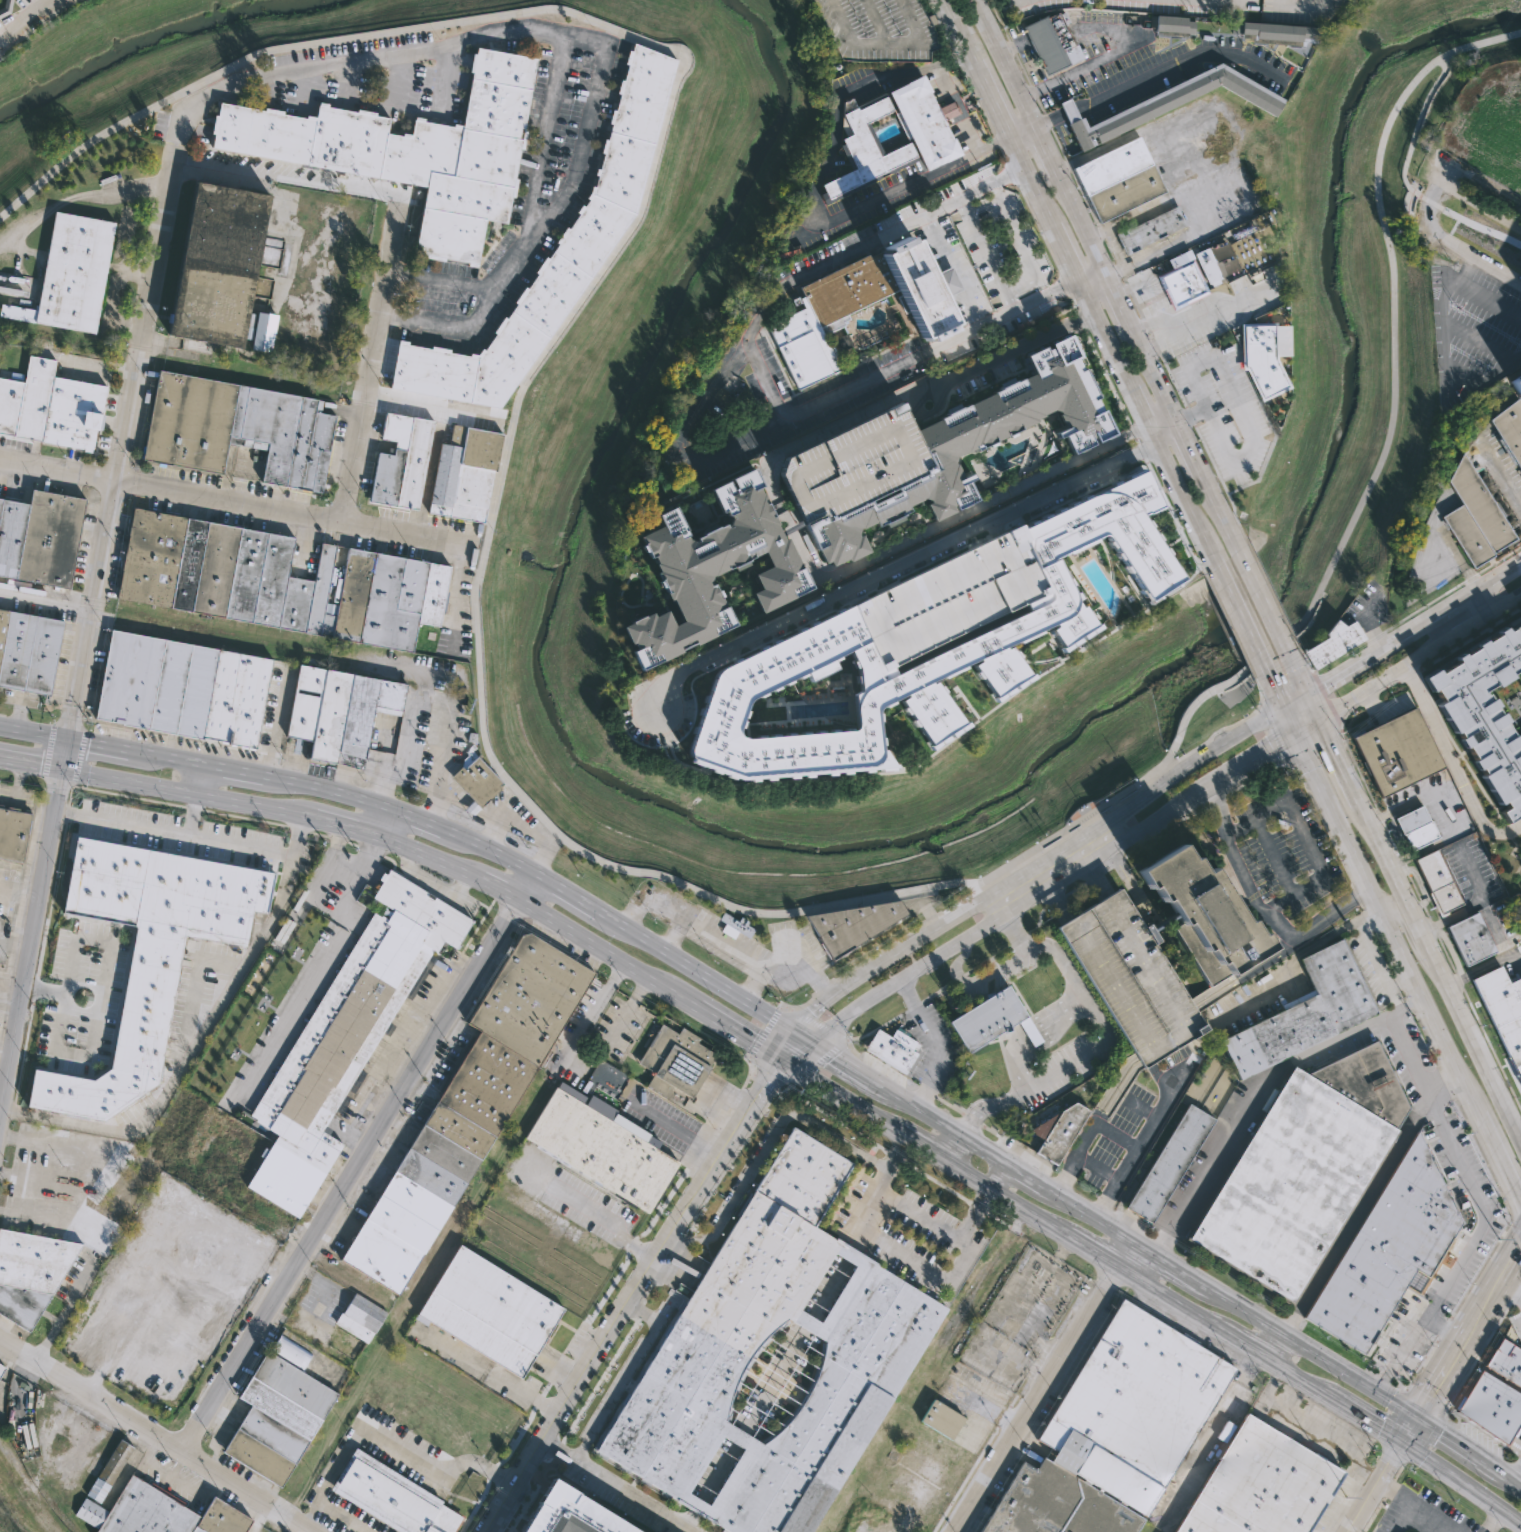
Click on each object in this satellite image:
parking lot: (20, 3)
building: (6, 7)
street lamp: (887, 8)
street lamp: (854, 11)
road: (1305, 11)
road: (25, 20)
street lamp: (893, 21)
street lamp: (860, 22)
road: (875, 22)
building: (1171, 25)
road: (942, 26)
building: (879, 30)
parking garage: (879, 30)
building: (1278, 31)
street lamp: (865, 34)
street lamp: (899, 34)
road: (1009, 42)
building: (1052, 42)
road: (883, 44)
street lamp: (873, 51)
street lamp: (908, 51)
road: (1108, 54)
road: (958, 59)
road: (1004, 63)
road: (1177, 63)
road: (943, 77)
road: (444, 81)
road: (398, 83)
road: (266, 84)
road: (341, 87)
road: (302, 91)
road: (1033, 91)
road: (977, 99)
building: (1174, 103)
road: (1040, 106)
building: (1068, 110)
road: (1068, 110)
road: (1049, 120)
road: (1047, 121)
road: (1415, 127)
road: (1022, 132)
road: (1131, 135)
building: (929, 137)
road: (970, 138)
road: (996, 141)
road: (1058, 144)
road: (543, 146)
road: (1045, 150)
building: (411, 151)
road: (1002, 153)
road: (1068, 165)
road: (1010, 171)
road: (288, 173)
building: (1118, 179)
road: (76, 196)
road: (812, 196)
road: (1084, 197)
road: (1468, 198)
road: (982, 203)
road: (1160, 203)
road: (1431, 204)
road: (1231, 220)
road: (1081, 224)
road: (905, 225)
road: (1038, 227)
road: (1482, 228)
building: (1151, 229)
road: (1099, 231)
road: (1018, 239)
road: (1109, 250)
road: (1467, 251)
building: (554, 253)
road: (986, 254)
road: (943, 259)
building: (211, 264)
building: (1206, 267)
road: (956, 269)
road: (1117, 269)
building: (66, 273)
road: (1078, 277)
road: (1092, 278)
road: (1124, 279)
building: (1182, 281)
road: (7, 282)
road: (946, 282)
road: (1131, 284)
road: (1065, 286)
road: (1127, 287)
road: (1022, 289)
road: (112, 294)
road: (960, 294)
road: (1116, 298)
building: (862, 305)
road: (1074, 305)
road: (1135, 305)
road: (1207, 305)
road: (1397, 305)
parking lot: (997, 318)
road: (1081, 321)
road: (1145, 324)
road: (448, 325)
building: (260, 331)
road: (1149, 334)
building: (842, 343)
road: (1155, 345)
road: (756, 348)
road: (1444, 350)
building: (1265, 356)
road: (374, 358)
road: (888, 369)
road: (1151, 371)
road: (1108, 379)
road: (1172, 379)
building: (1514, 382)
road: (707, 395)
road: (895, 395)
road: (915, 404)
building: (48, 406)
parking lot: (1223, 408)
road: (933, 411)
road: (1191, 413)
road: (1189, 415)
road: (1243, 416)
road: (1162, 427)
building: (234, 428)
road: (1272, 428)
building: (1509, 430)
building: (974, 443)
road: (1138, 443)
road: (1189, 449)
road: (503, 451)
building: (399, 461)
building: (851, 464)
parking garage: (851, 464)
building: (463, 472)
road: (1502, 477)
road: (1220, 480)
parking lot: (1034, 483)
road: (695, 488)
road: (233, 501)
road: (1218, 511)
building: (1475, 516)
road: (959, 517)
road: (792, 518)
road: (1173, 520)
road: (993, 526)
building: (790, 528)
road: (790, 529)
building: (38, 538)
road: (1456, 556)
building: (713, 567)
road: (889, 569)
road: (1498, 572)
building: (274, 581)
road: (1271, 593)
road: (866, 594)
road: (47, 596)
building: (949, 596)
parking garage: (949, 596)
road: (1484, 601)
road: (1264, 606)
road: (1507, 606)
road: (1416, 611)
road: (1239, 617)
road: (1428, 617)
road: (1367, 623)
building: (833, 626)
road: (1230, 627)
road: (1459, 635)
road: (706, 642)
building: (1334, 642)
building: (28, 652)
road: (1266, 652)
road: (1305, 662)
road: (1426, 665)
road: (1343, 670)
road: (1301, 680)
building: (181, 689)
road: (1373, 689)
road: (1288, 690)
road: (1275, 692)
traffic signals: (1307, 694)
road: (1295, 700)
road: (966, 701)
building: (305, 703)
road: (1327, 703)
road: (1260, 705)
traffic signals: (1283, 707)
road: (1313, 708)
building: (1483, 713)
building: (349, 716)
road: (1290, 722)
traffic signals: (1320, 723)
road: (274, 726)
road: (1308, 730)
road: (34, 734)
road: (1274, 735)
traffic signals: (1297, 737)
traffic signals: (69, 741)
road: (950, 741)
road: (103, 747)
road: (405, 747)
road: (1313, 747)
road: (445, 749)
building: (1397, 753)
road: (66, 756)
road: (169, 760)
road: (1173, 760)
road: (32, 765)
road: (1454, 766)
traffic signals: (64, 772)
road: (233, 773)
building: (475, 780)
road: (199, 781)
road: (1145, 781)
road: (323, 789)
road: (190, 794)
road: (452, 798)
road: (1112, 803)
road: (471, 807)
road: (192, 816)
road: (410, 816)
road: (378, 823)
building: (1415, 828)
road: (346, 829)
building: (12, 832)
road: (490, 833)
road: (529, 833)
road: (195, 838)
road: (1103, 838)
road: (1304, 838)
road: (488, 850)
road: (1034, 856)
road: (424, 859)
road: (1035, 864)
road: (1091, 867)
road: (1241, 871)
road: (351, 880)
building: (1437, 882)
road: (1131, 883)
road: (529, 887)
road: (970, 888)
road: (497, 889)
road: (1055, 889)
road: (567, 893)
road: (1036, 895)
road: (1061, 896)
road: (1476, 903)
road: (996, 905)
road: (1393, 909)
road: (1329, 916)
building: (1201, 917)
road: (1368, 918)
road: (1429, 921)
building: (849, 924)
road: (1386, 924)
building: (736, 925)
road: (1420, 935)
building: (1470, 939)
road: (33, 943)
road: (608, 953)
building: (145, 955)
road: (1481, 967)
road: (694, 970)
road: (1239, 975)
building: (1129, 979)
parking garage: (1129, 979)
road: (971, 983)
road: (43, 991)
road: (296, 1005)
road: (597, 1007)
building: (1312, 1009)
building: (1503, 1010)
road: (626, 1014)
road: (1059, 1014)
building: (987, 1019)
road: (818, 1024)
traffic signals: (792, 1027)
parking lot: (616, 1029)
road: (764, 1031)
building: (1029, 1032)
road: (1029, 1032)
road: (738, 1033)
traffic signals: (814, 1040)
road: (934, 1041)
road: (1110, 1041)
road: (786, 1043)
building: (339, 1044)
building: (893, 1050)
road: (85, 1054)
road: (1415, 1055)
road: (188, 1056)
road: (842, 1059)
traffic signals: (781, 1060)
building: (674, 1062)
road: (1017, 1062)
road: (819, 1063)
road: (751, 1066)
parking lot: (883, 1069)
road: (761, 1081)
road: (1251, 1088)
road: (1450, 1089)
road: (783, 1090)
road: (838, 1094)
road: (1143, 1109)
building: (460, 1118)
road: (660, 1120)
road: (949, 1126)
road: (1093, 1126)
road: (778, 1130)
building: (1058, 1133)
road: (1117, 1137)
road: (1145, 1141)
road: (920, 1147)
road: (954, 1149)
building: (602, 1150)
road: (1498, 1158)
road: (905, 1161)
building: (1169, 1164)
building: (1302, 1168)
road: (1098, 1169)
road: (350, 1174)
road: (1025, 1174)
road: (996, 1175)
road: (1362, 1197)
road: (1005, 1199)
road: (703, 1202)
road: (1515, 1203)
road: (1089, 1214)
road: (591, 1215)
road: (929, 1220)
road: (867, 1221)
road: (1516, 1231)
building: (1386, 1249)
road: (848, 1253)
road: (1098, 1258)
railway: (433, 1260)
road: (1142, 1266)
road: (1174, 1267)
road: (928, 1268)
building: (29, 1272)
road: (828, 1287)
road: (1512, 1291)
road: (634, 1295)
road: (600, 1302)
road: (1181, 1308)
road: (66, 1309)
building: (487, 1310)
road: (807, 1322)
building: (873, 1334)
road: (1272, 1343)
road: (1246, 1345)
road: (1461, 1346)
road: (1401, 1353)
road: (1317, 1354)
building: (1506, 1360)
road: (563, 1368)
building: (1, 1369)
road: (490, 1373)
road: (625, 1375)
road: (1300, 1377)
road: (773, 1380)
road: (1044, 1387)
road: (1455, 1394)
building: (1134, 1407)
building: (1492, 1408)
road: (991, 1409)
building: (276, 1411)
traffic signals: (1417, 1417)
building: (941, 1418)
road: (575, 1421)
road: (1370, 1421)
road: (1310, 1427)
road: (157, 1436)
road: (1210, 1436)
road: (739, 1437)
road: (1448, 1439)
traffic signals: (1403, 1442)
road: (386, 1450)
railway: (1202, 1466)
building: (107, 1470)
road: (1515, 1471)
road: (718, 1472)
road: (1500, 1475)
building: (1261, 1484)
road: (1462, 1485)
road: (619, 1486)
road: (1377, 1487)
railway: (38, 1488)
road: (1400, 1494)
building: (390, 1496)
building: (1056, 1504)
road: (698, 1507)
building: (155, 1513)
building: (569, 1513)
road: (1417, 1515)
road: (259, 1517)
park: (11, 1518)
road: (690, 1519)
road: (336, 1522)
road: (1493, 1522)

